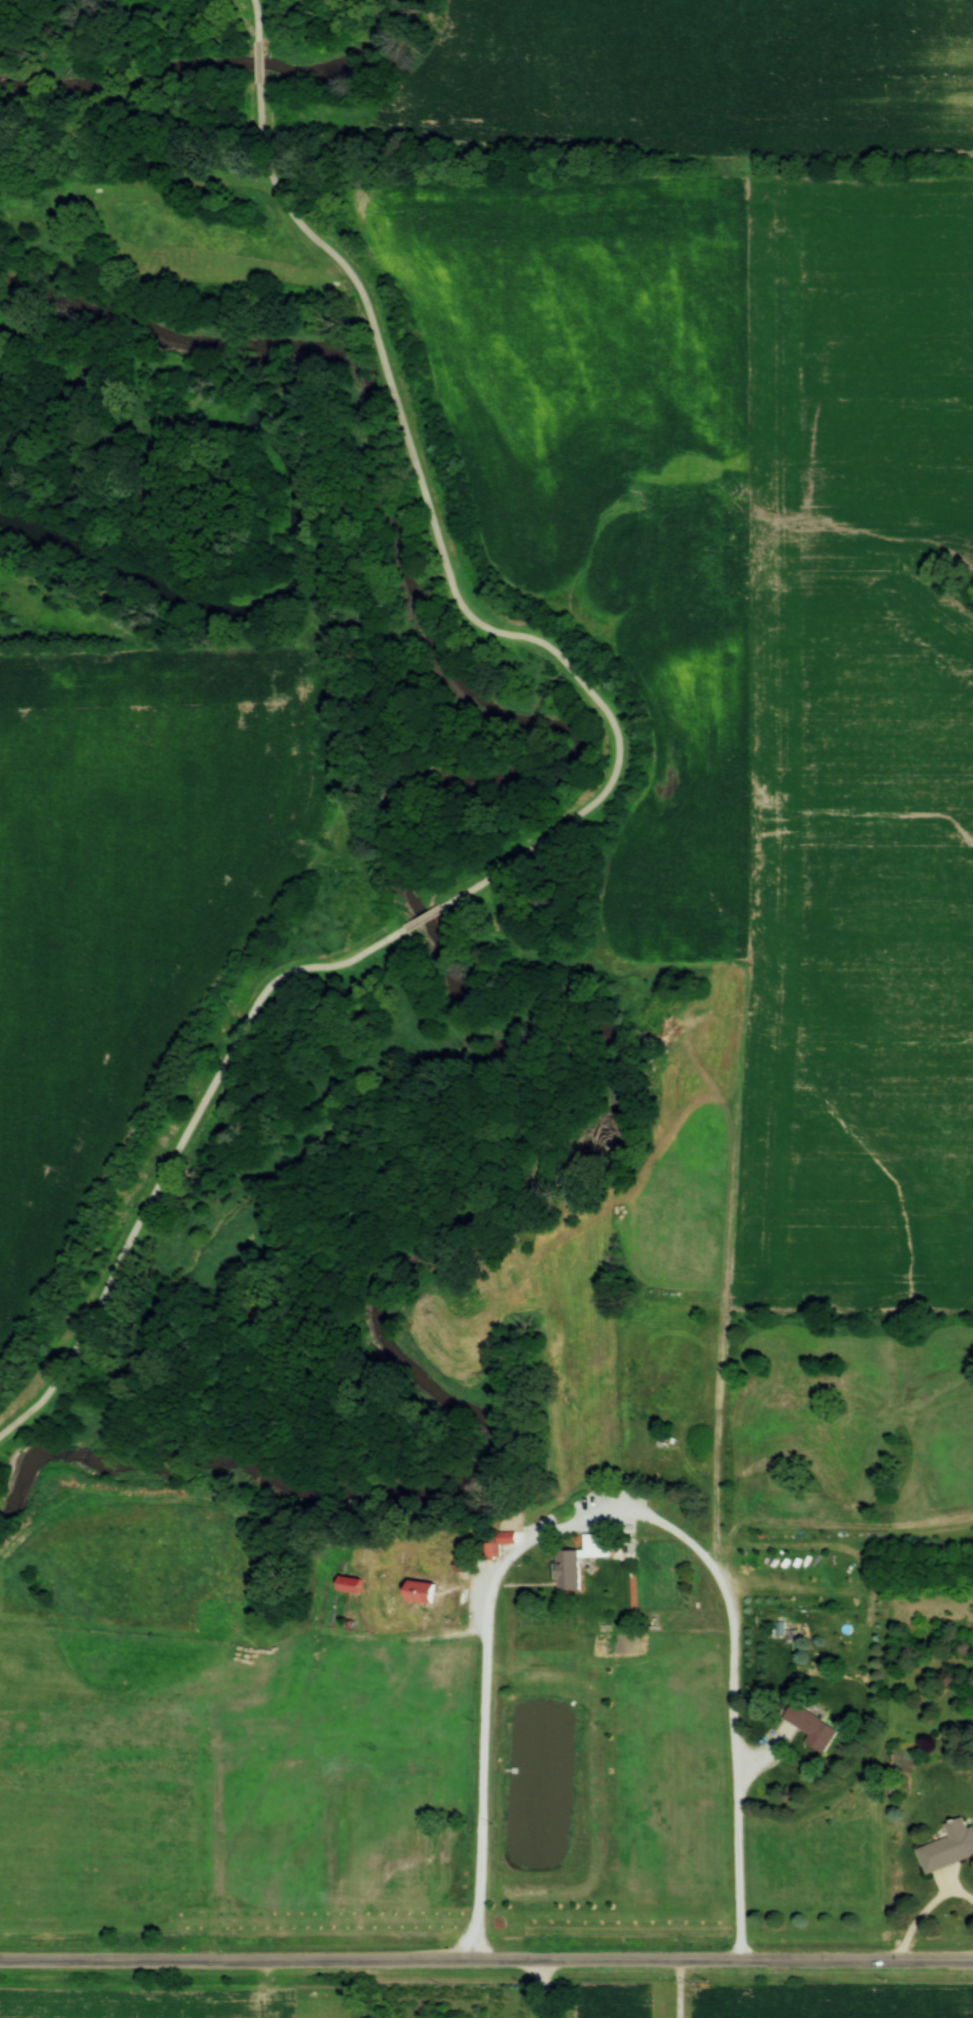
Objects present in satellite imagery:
road: (602, 792)
road: (607, 1512)
building: (506, 1537)
building: (580, 1561)
building: (351, 1585)
building: (423, 1592)
building: (812, 1726)
road: (762, 1752)
building: (949, 1846)
road: (923, 1910)
road: (486, 1958)
road: (541, 1988)

